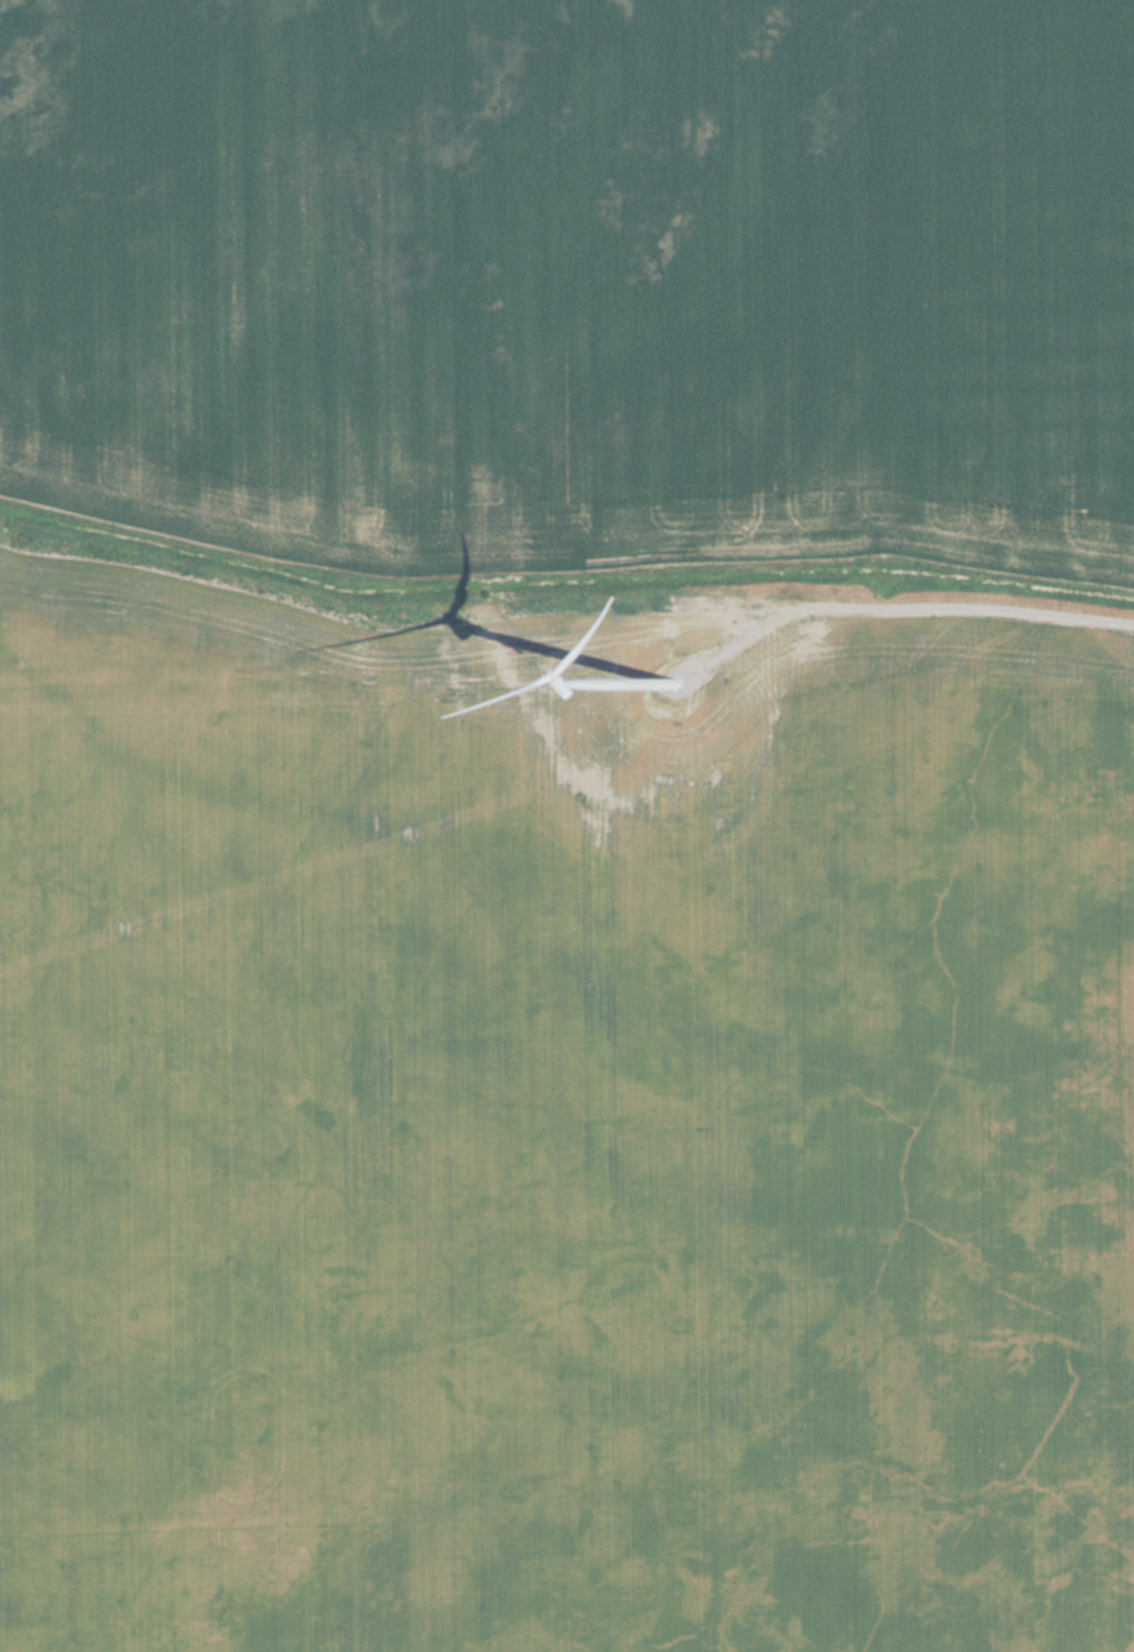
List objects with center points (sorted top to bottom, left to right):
road: (926, 596)
wind turbine: (669, 685)

